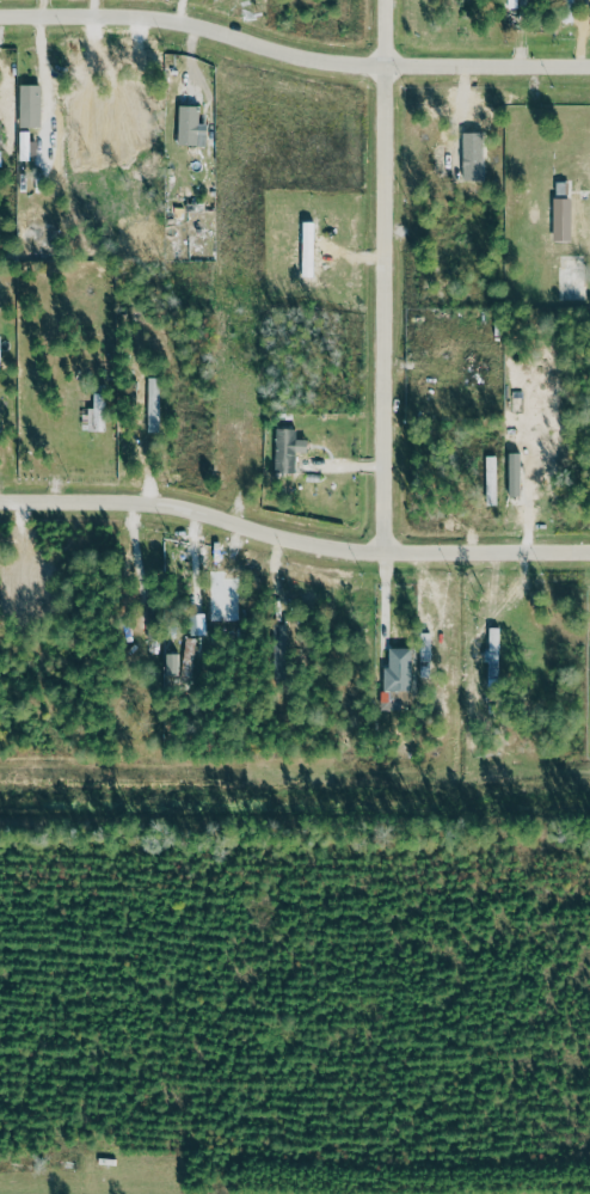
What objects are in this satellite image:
building: (515, 4)
building: (570, 8)
road: (294, 53)
building: (33, 100)
building: (193, 122)
building: (565, 214)
building: (312, 244)
road: (393, 280)
building: (1, 343)
building: (100, 410)
building: (290, 445)
building: (517, 470)
building: (494, 477)
road: (293, 539)
building: (199, 618)
building: (154, 624)
building: (282, 643)
building: (496, 651)
building: (184, 659)
building: (400, 665)

